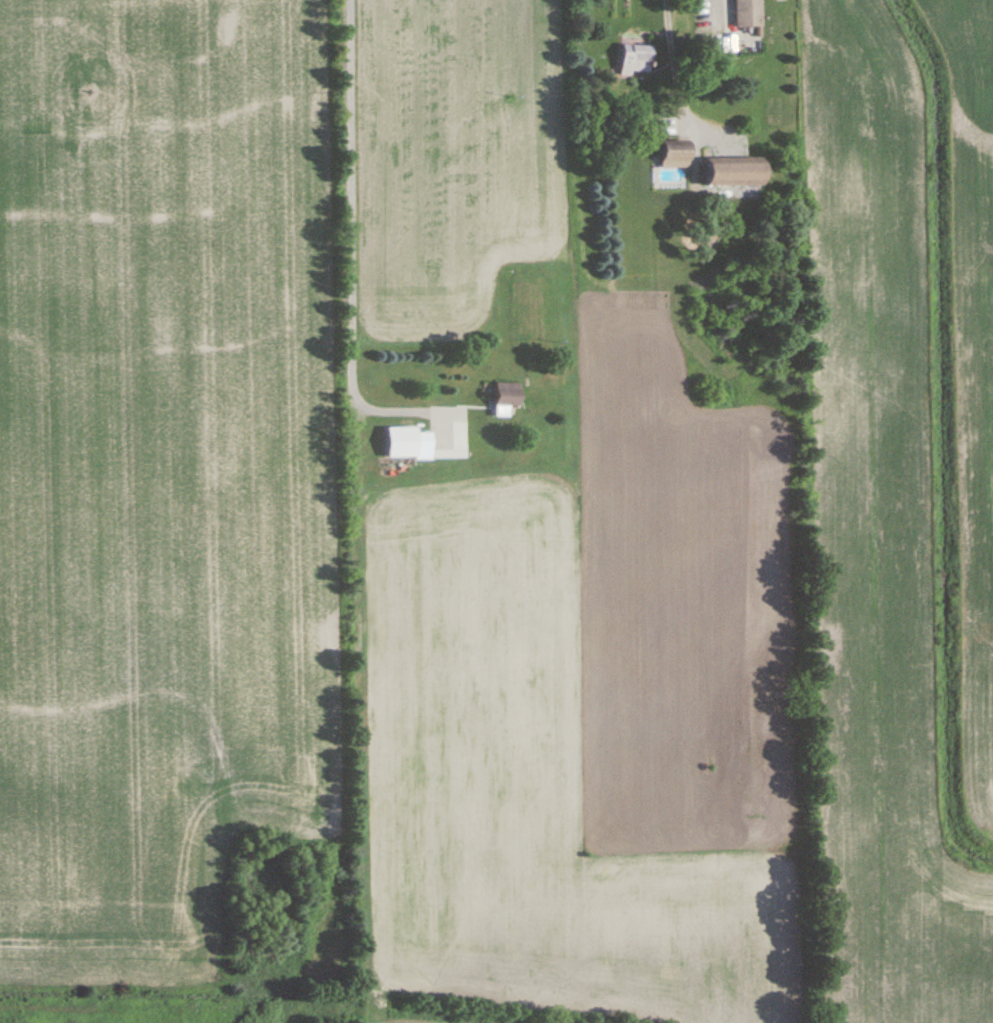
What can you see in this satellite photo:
building: (748, 13)
road: (673, 57)
building: (637, 58)
building: (676, 154)
building: (736, 171)
road: (344, 237)
building: (507, 398)
building: (409, 444)

